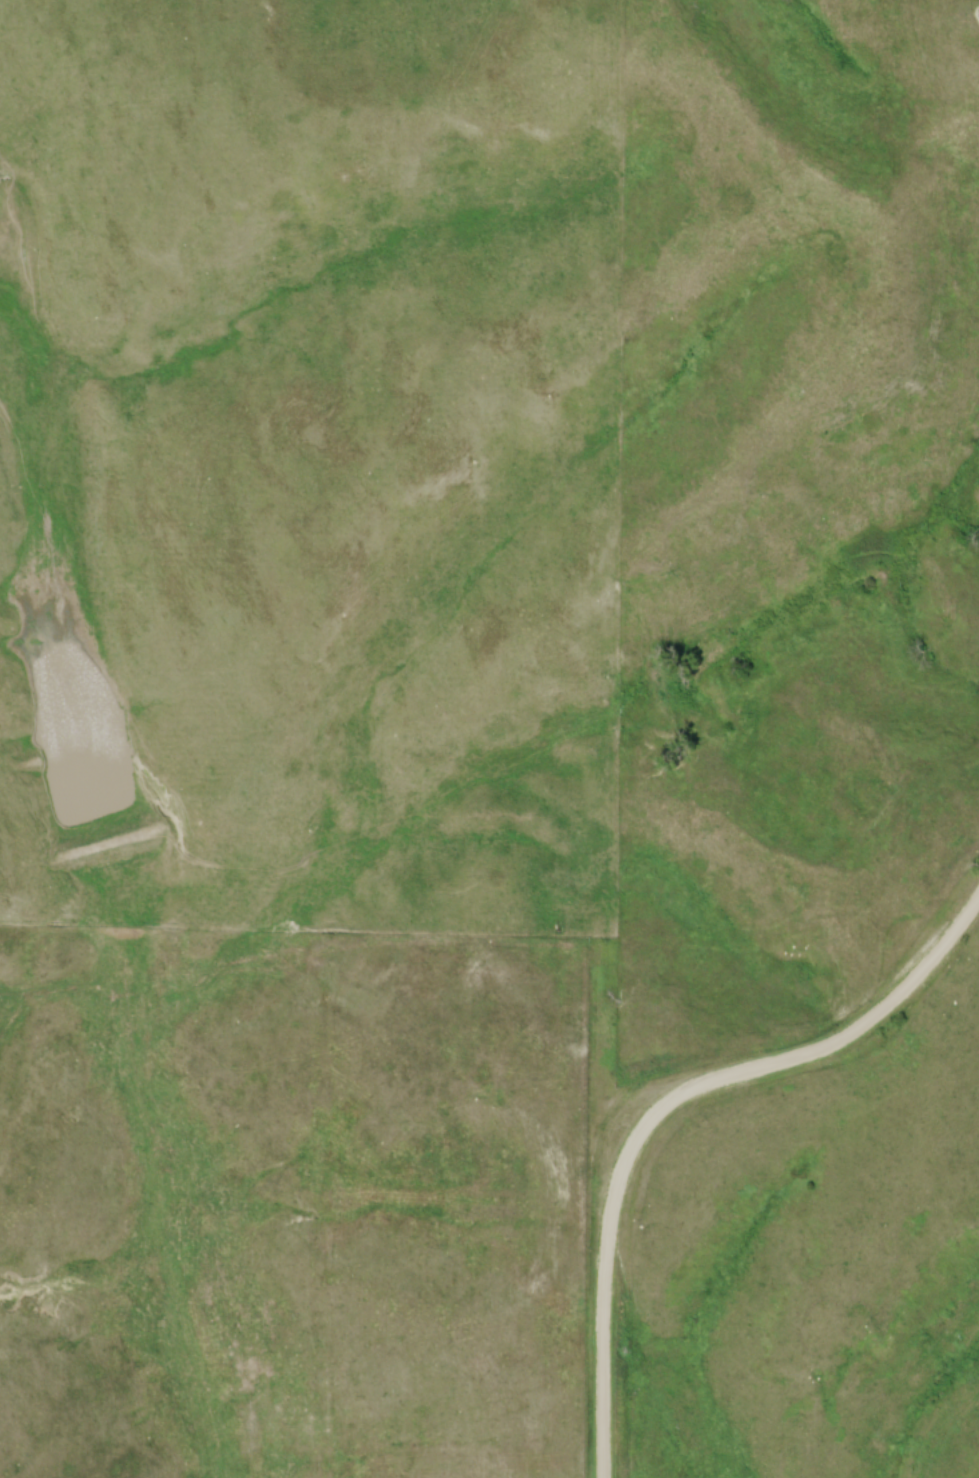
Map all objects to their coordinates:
road: (666, 1110)

